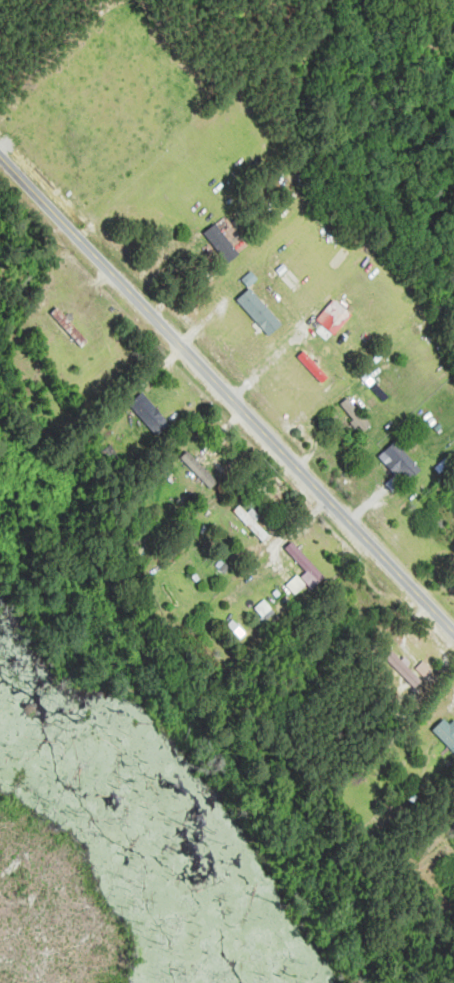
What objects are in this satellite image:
building: (220, 244)
building: (259, 312)
building: (68, 327)
road: (227, 393)
building: (148, 414)
building: (355, 415)
building: (401, 463)
building: (199, 470)
building: (446, 516)
building: (250, 522)
building: (302, 572)
building: (264, 610)
building: (402, 670)
building: (445, 732)

